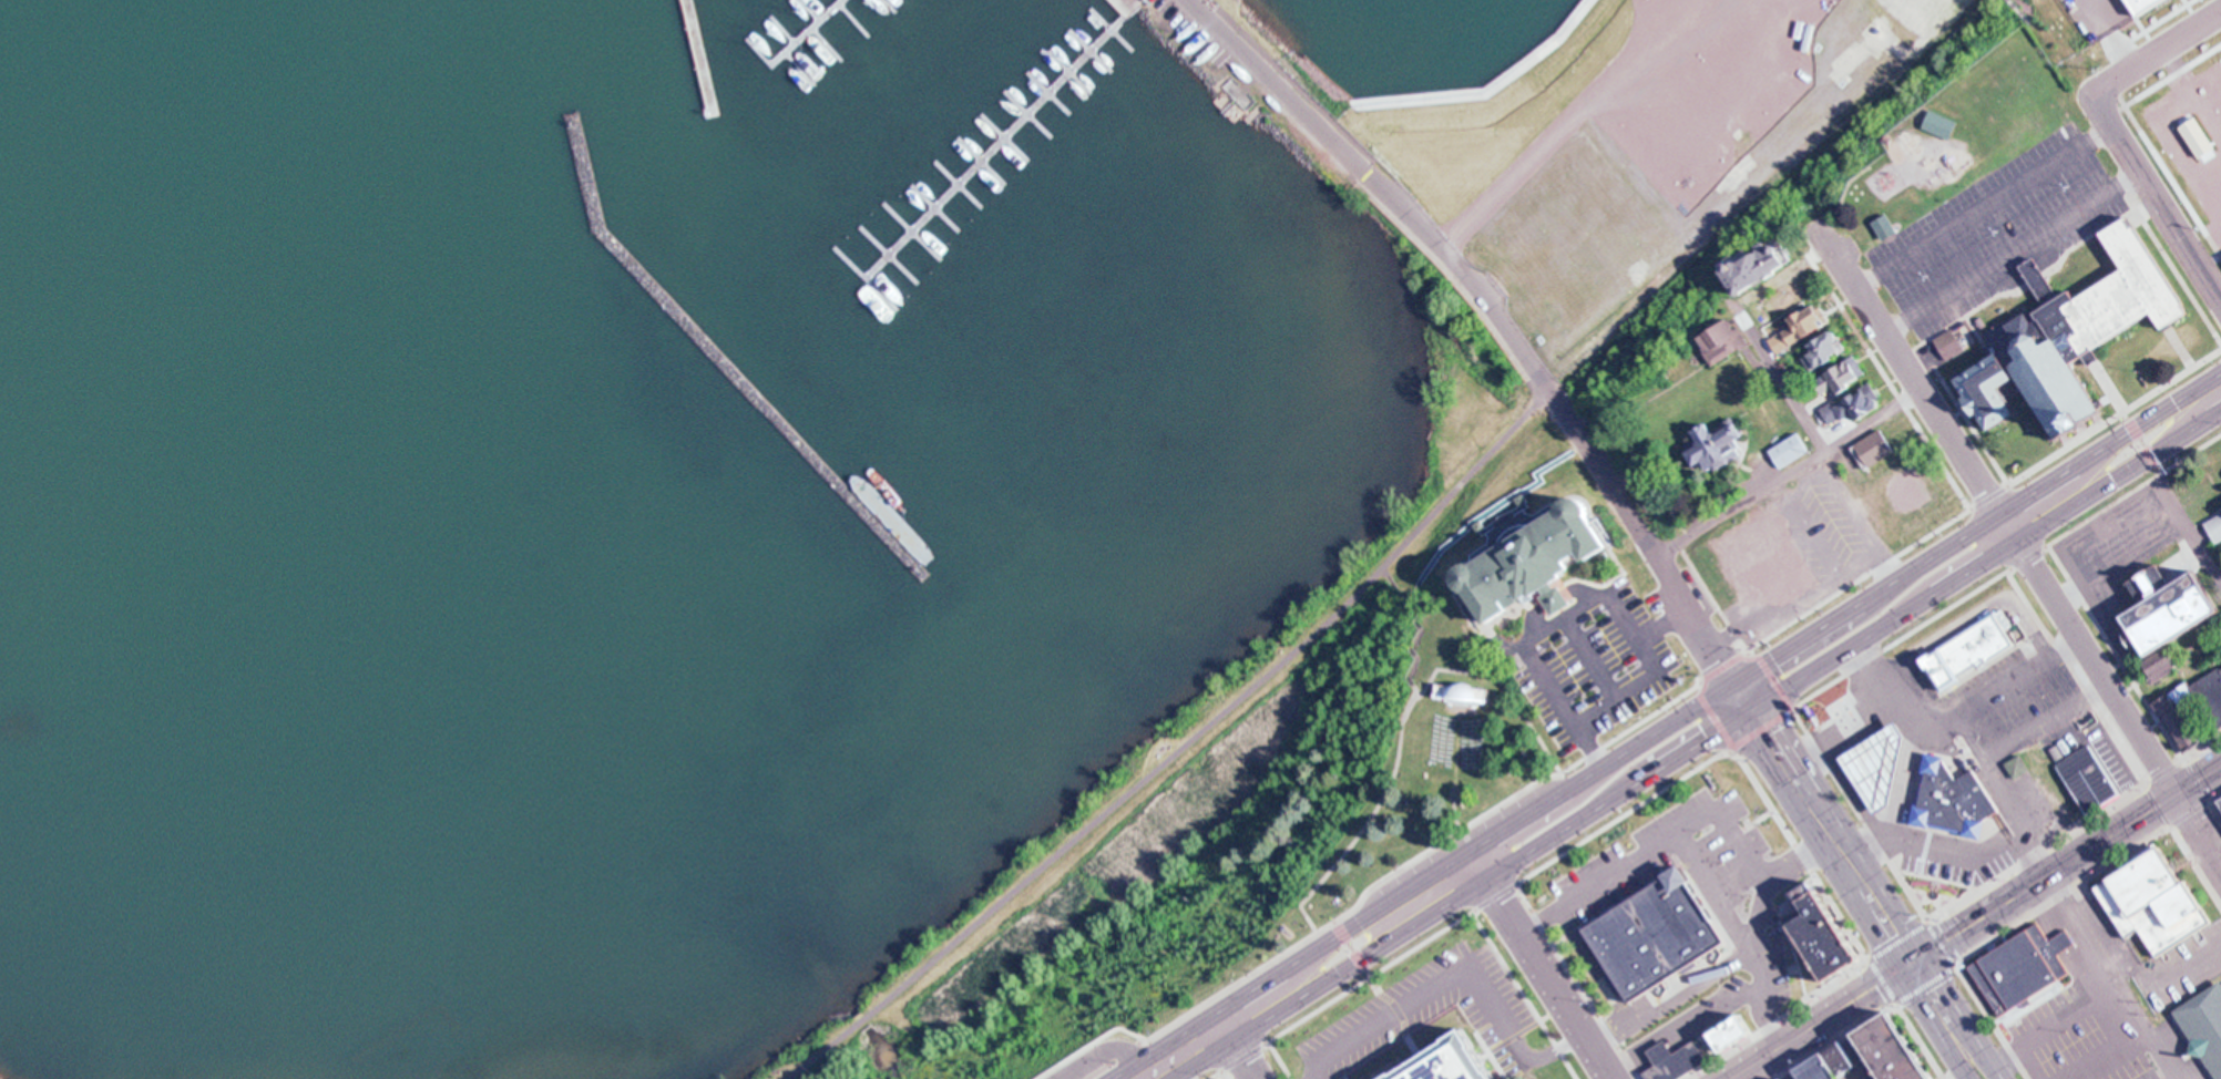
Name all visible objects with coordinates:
building: (2138, 6)
parking lot: (1196, 32)
pier: (812, 35)
road: (1230, 38)
road: (2156, 52)
pier: (698, 56)
road: (2162, 80)
road: (1466, 93)
road: (1291, 96)
road: (1586, 100)
road: (1409, 123)
building: (2191, 132)
pier: (996, 148)
park: (1308, 155)
road: (2166, 167)
road: (2156, 198)
road: (1984, 207)
parking lot: (1997, 230)
road: (1440, 248)
road: (2013, 254)
road: (2171, 263)
building: (1754, 266)
building: (1799, 295)
building: (1798, 328)
building: (2069, 337)
building: (1722, 341)
building: (1948, 343)
road: (2179, 347)
building: (1821, 352)
building: (1839, 374)
road: (1780, 377)
road: (1886, 379)
road: (1916, 384)
road: (2109, 386)
road: (2106, 399)
building: (1854, 401)
road: (2161, 409)
road: (1971, 423)
road: (2186, 428)
road: (2142, 441)
building: (1709, 445)
building: (1872, 448)
building: (1789, 450)
road: (1788, 474)
road: (2051, 480)
building: (1910, 489)
road: (2082, 497)
road: (1493, 506)
parking lot: (1826, 524)
building: (2214, 526)
road: (1642, 536)
road: (2197, 537)
road: (1954, 543)
road: (2101, 545)
parking lot: (2121, 547)
building: (1763, 558)
building: (1543, 564)
road: (1854, 564)
road: (1952, 579)
road: (1585, 605)
building: (2164, 607)
road: (1971, 613)
road: (1416, 623)
road: (1664, 624)
road: (1821, 627)
building: (1972, 652)
road: (1590, 656)
parking lot: (1589, 661)
road: (1820, 664)
building: (2170, 665)
road: (2133, 680)
traffic signals: (1733, 684)
building: (1468, 693)
building: (2208, 695)
road: (1741, 697)
road: (2117, 703)
traffic signals: (1750, 710)
road: (1947, 715)
building: (2178, 717)
road: (2045, 721)
road: (1668, 725)
road: (1402, 728)
road: (1628, 728)
road: (2115, 736)
road: (1841, 737)
road: (1181, 747)
parking lot: (1959, 750)
road: (1676, 756)
road: (1713, 757)
parking lot: (2112, 759)
park: (1309, 767)
building: (2017, 768)
building: (1884, 769)
gas station: (1884, 769)
road: (1453, 772)
road: (1790, 773)
building: (2091, 780)
road: (2004, 791)
building: (1956, 802)
road: (1537, 808)
road: (1855, 809)
road: (1900, 811)
road: (2135, 820)
road: (1676, 835)
park: (1464, 839)
road: (1905, 843)
road: (2045, 846)
road: (1839, 850)
parking lot: (1672, 856)
road: (1820, 882)
road: (1710, 891)
road: (1399, 894)
road: (1623, 903)
building: (2159, 903)
road: (1435, 908)
road: (1880, 912)
park: (1347, 917)
road: (1981, 918)
road: (1541, 921)
road: (1996, 934)
building: (1661, 937)
building: (1830, 939)
building: (2065, 944)
road: (1731, 958)
traffic signals: (1912, 963)
road: (1539, 964)
road: (1288, 965)
road: (1595, 966)
parking lot: (2181, 968)
park: (1261, 972)
building: (2022, 973)
road: (2113, 977)
road: (2160, 979)
road: (1575, 982)
parking lot: (1747, 986)
park: (980, 993)
road: (1378, 993)
road: (1524, 995)
road: (1757, 995)
road: (1958, 1008)
parking lot: (2097, 1009)
parking lot: (1429, 1015)
road: (1243, 1016)
park: (1426, 1016)
road: (1383, 1018)
road: (1779, 1019)
road: (1820, 1020)
road: (1936, 1023)
building: (2207, 1025)
road: (1526, 1027)
road: (2058, 1027)
road: (1680, 1029)
building: (1737, 1029)
road: (1482, 1041)
road: (1515, 1045)
road: (1138, 1047)
building: (1892, 1050)
road: (1107, 1051)
building: (1666, 1052)
road: (1183, 1054)
road: (1239, 1054)
road: (1432, 1054)
road: (2109, 1055)
road: (1654, 1056)
road: (1280, 1059)
building: (1846, 1060)
road: (2037, 1062)
building: (1457, 1063)
building: (1682, 1063)
road: (1784, 1063)
building: (1823, 1070)
road: (1173, 1071)
road: (1999, 1071)
road: (1225, 1073)
road: (1968, 1078)

